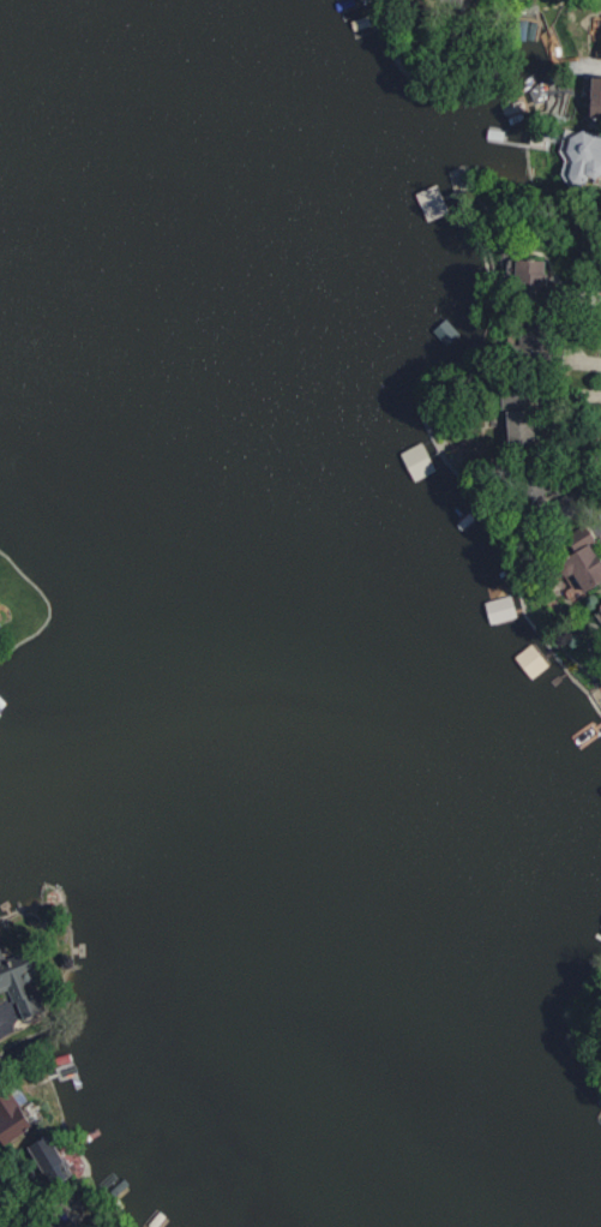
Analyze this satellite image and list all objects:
building: (597, 36)
building: (589, 96)
building: (578, 155)
building: (517, 273)
building: (571, 559)
building: (498, 609)
building: (597, 609)
building: (23, 981)
road: (5, 1014)
building: (14, 1117)
building: (56, 1161)

